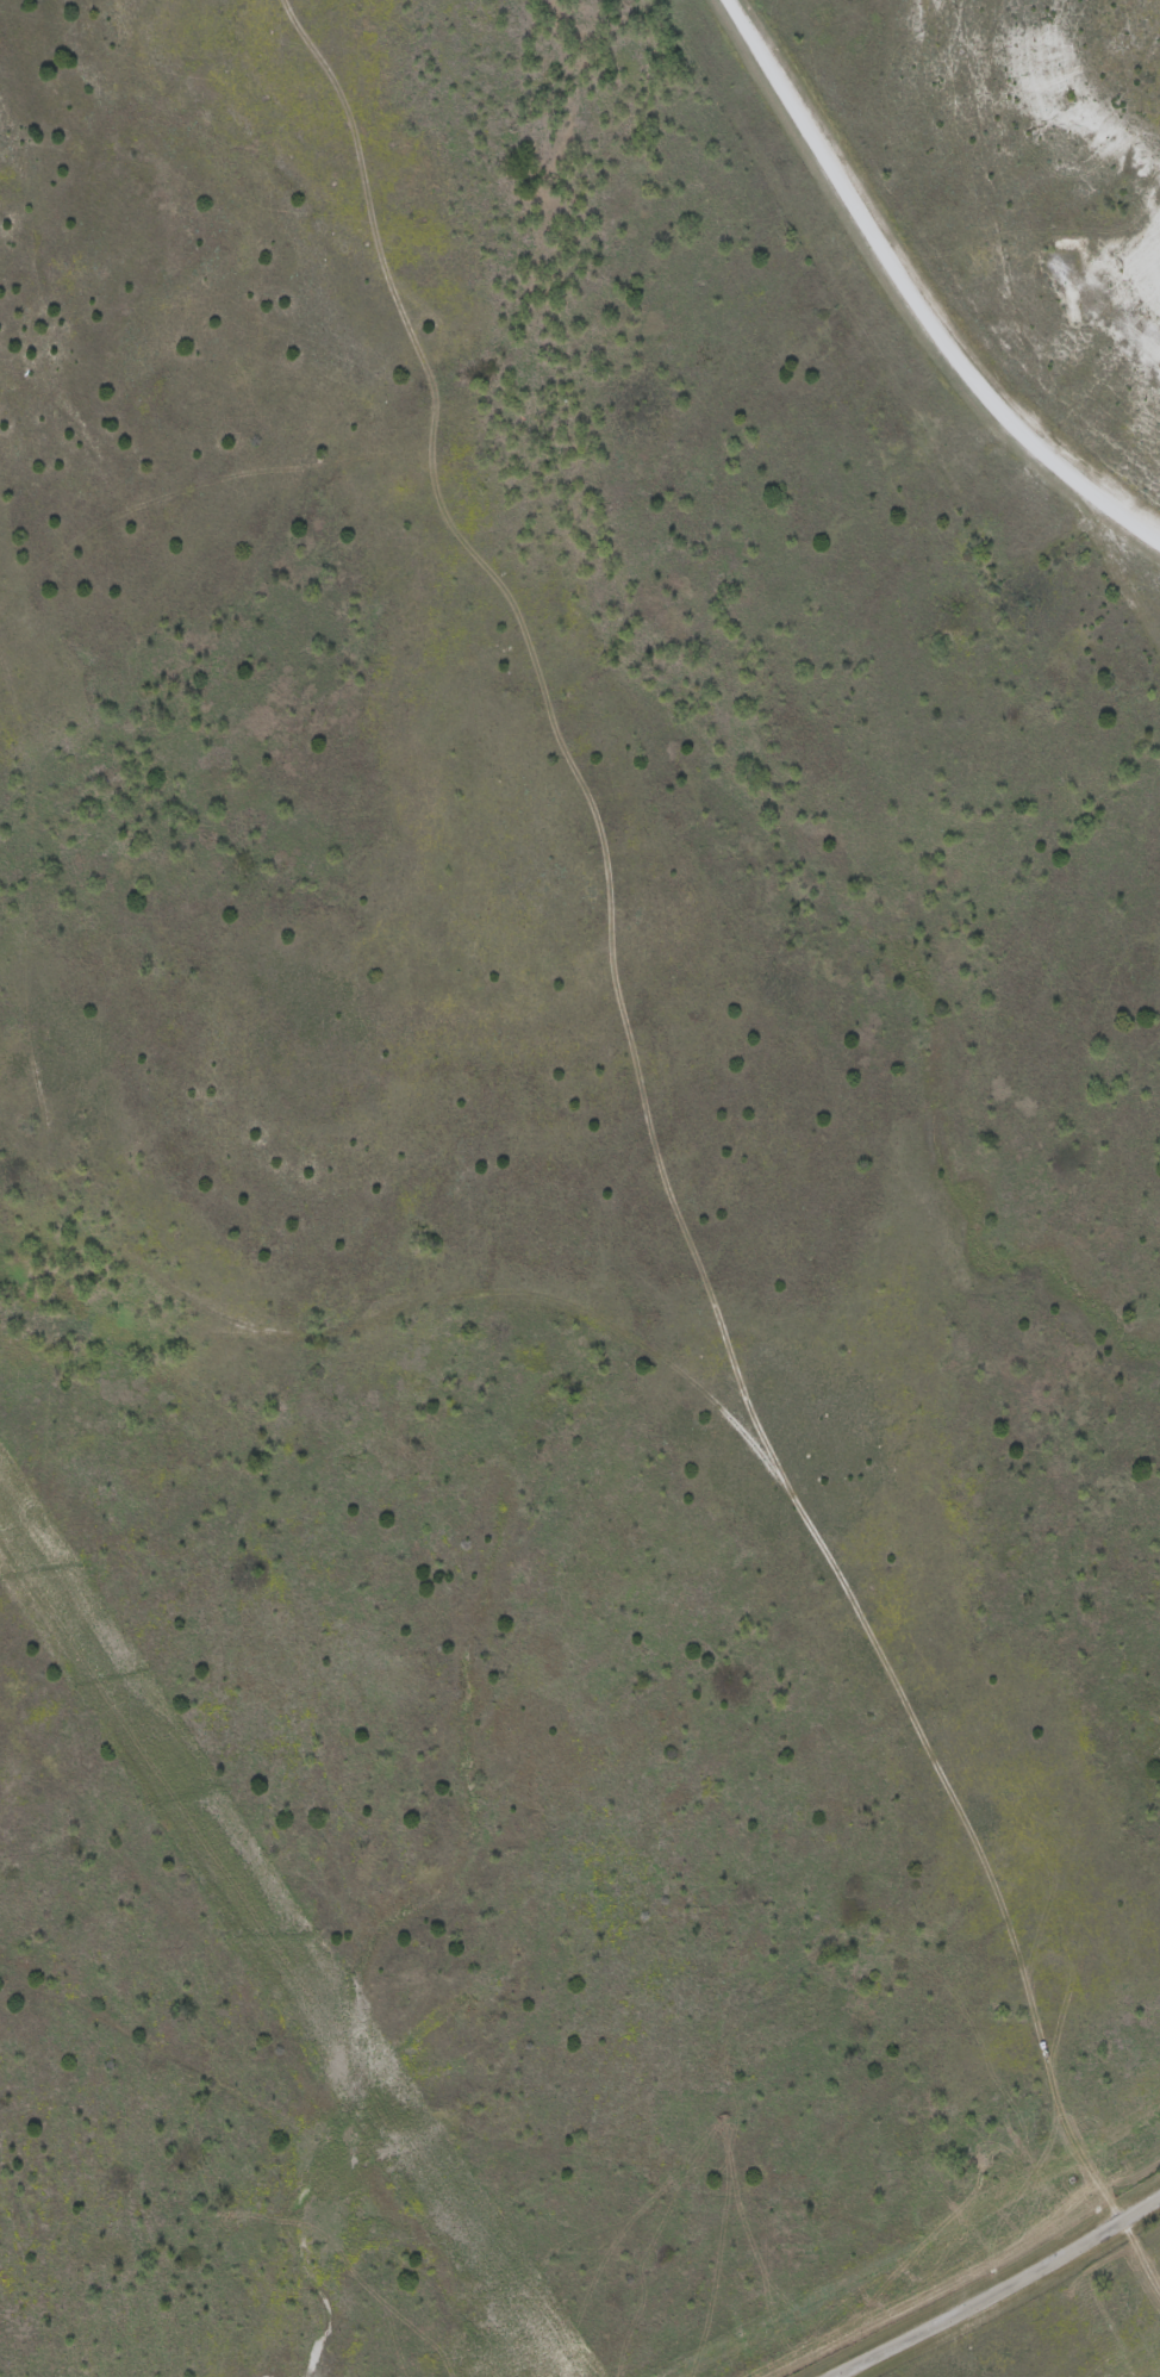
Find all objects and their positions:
road: (911, 293)
road: (873, 1630)
road: (99, 2006)
road: (295, 2168)
road: (1141, 2203)
road: (971, 2300)

